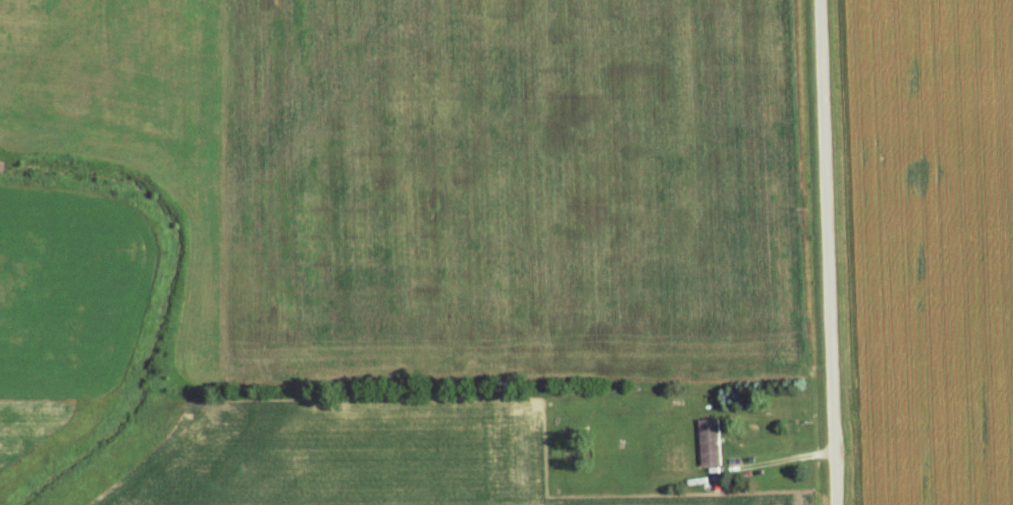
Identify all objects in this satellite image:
road: (828, 252)
building: (705, 444)
crop: (342, 457)
road: (782, 460)

